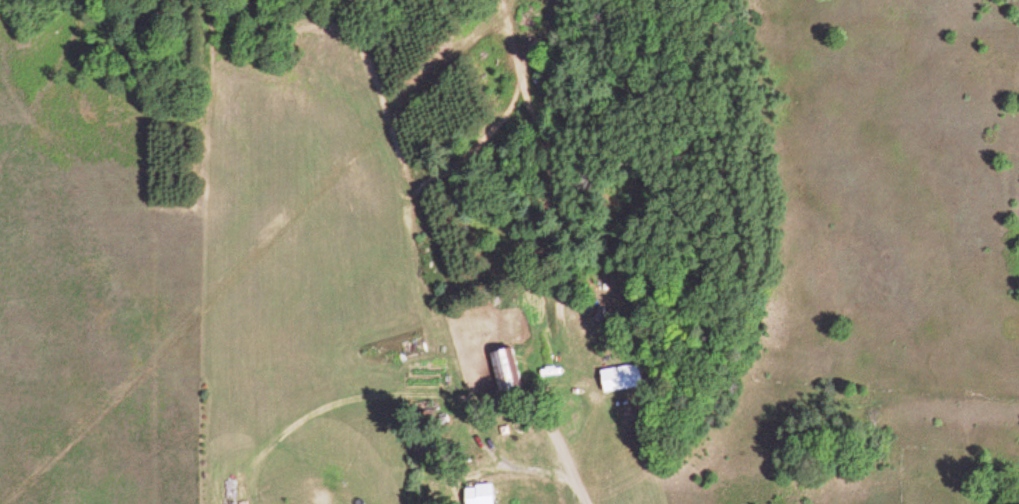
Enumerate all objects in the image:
building: (499, 371)
building: (617, 379)
road: (578, 491)
building: (475, 494)

